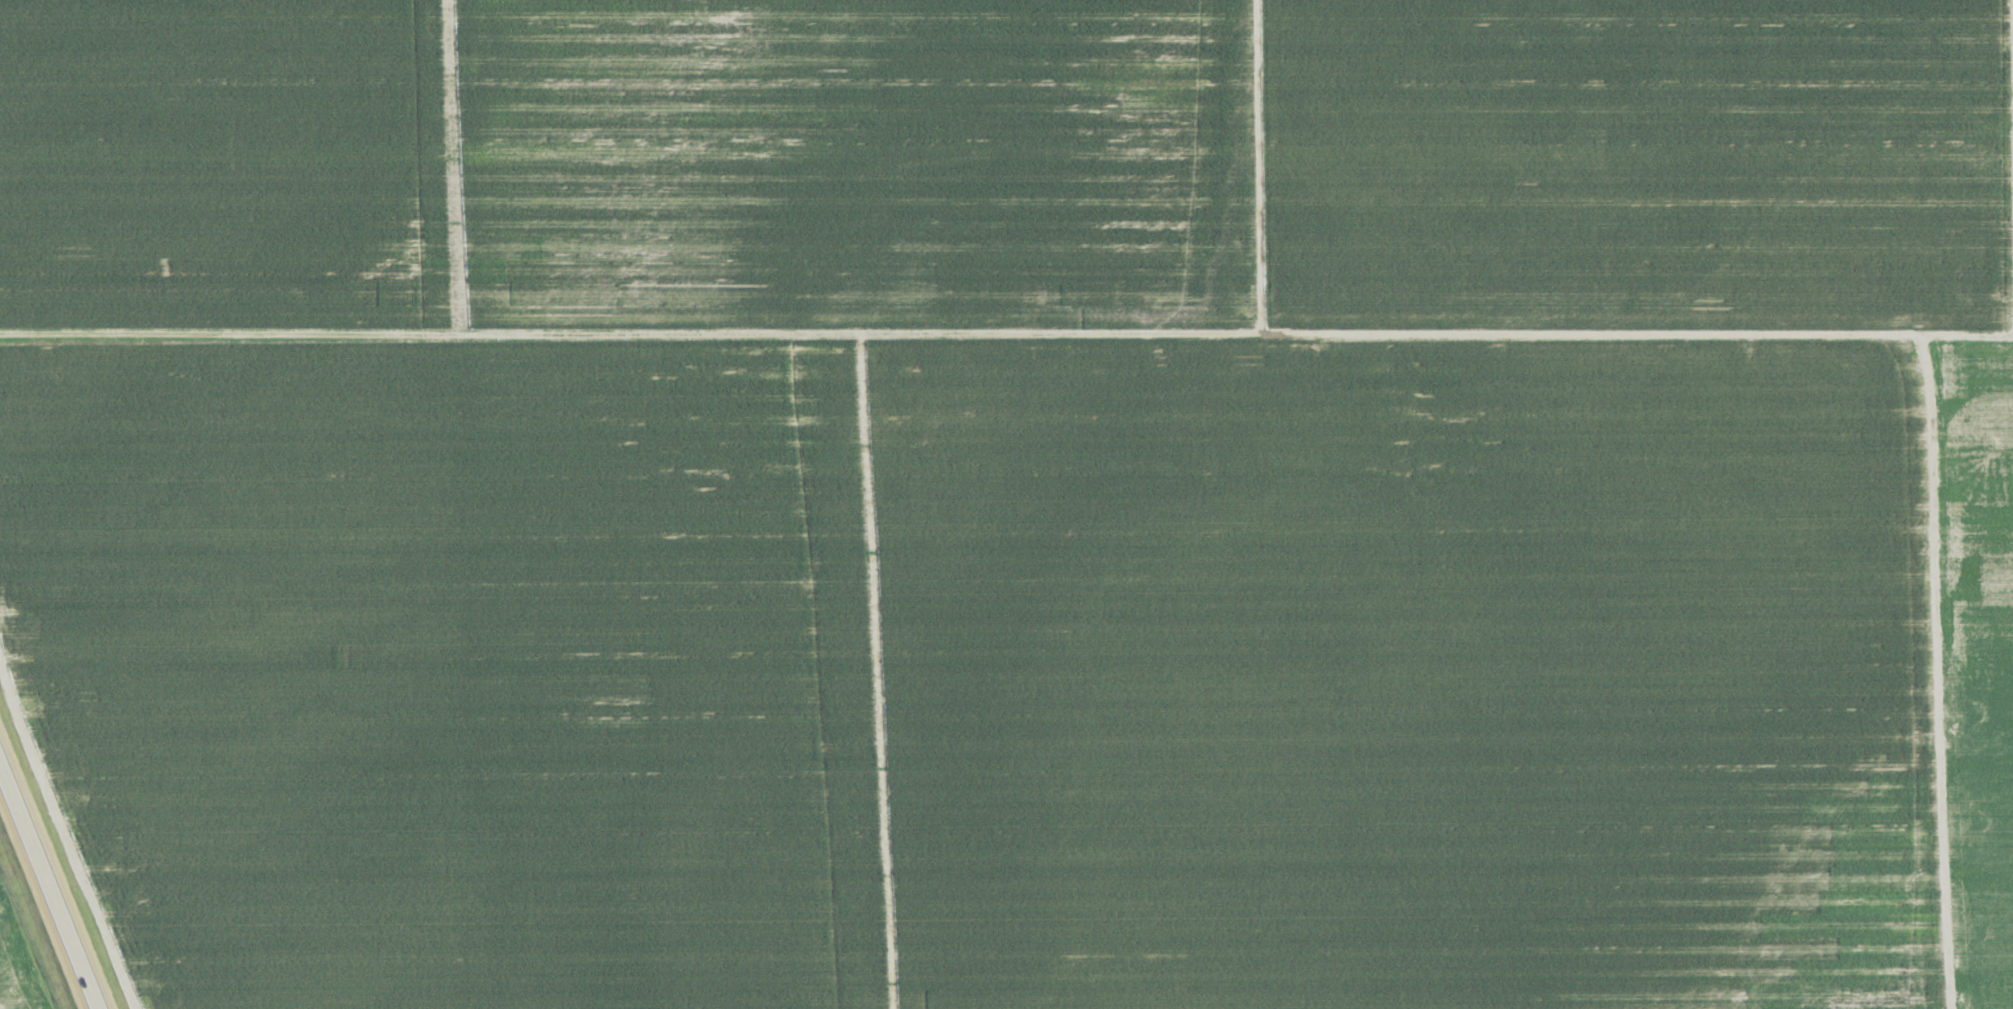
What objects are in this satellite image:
road: (1006, 335)
road: (48, 889)

